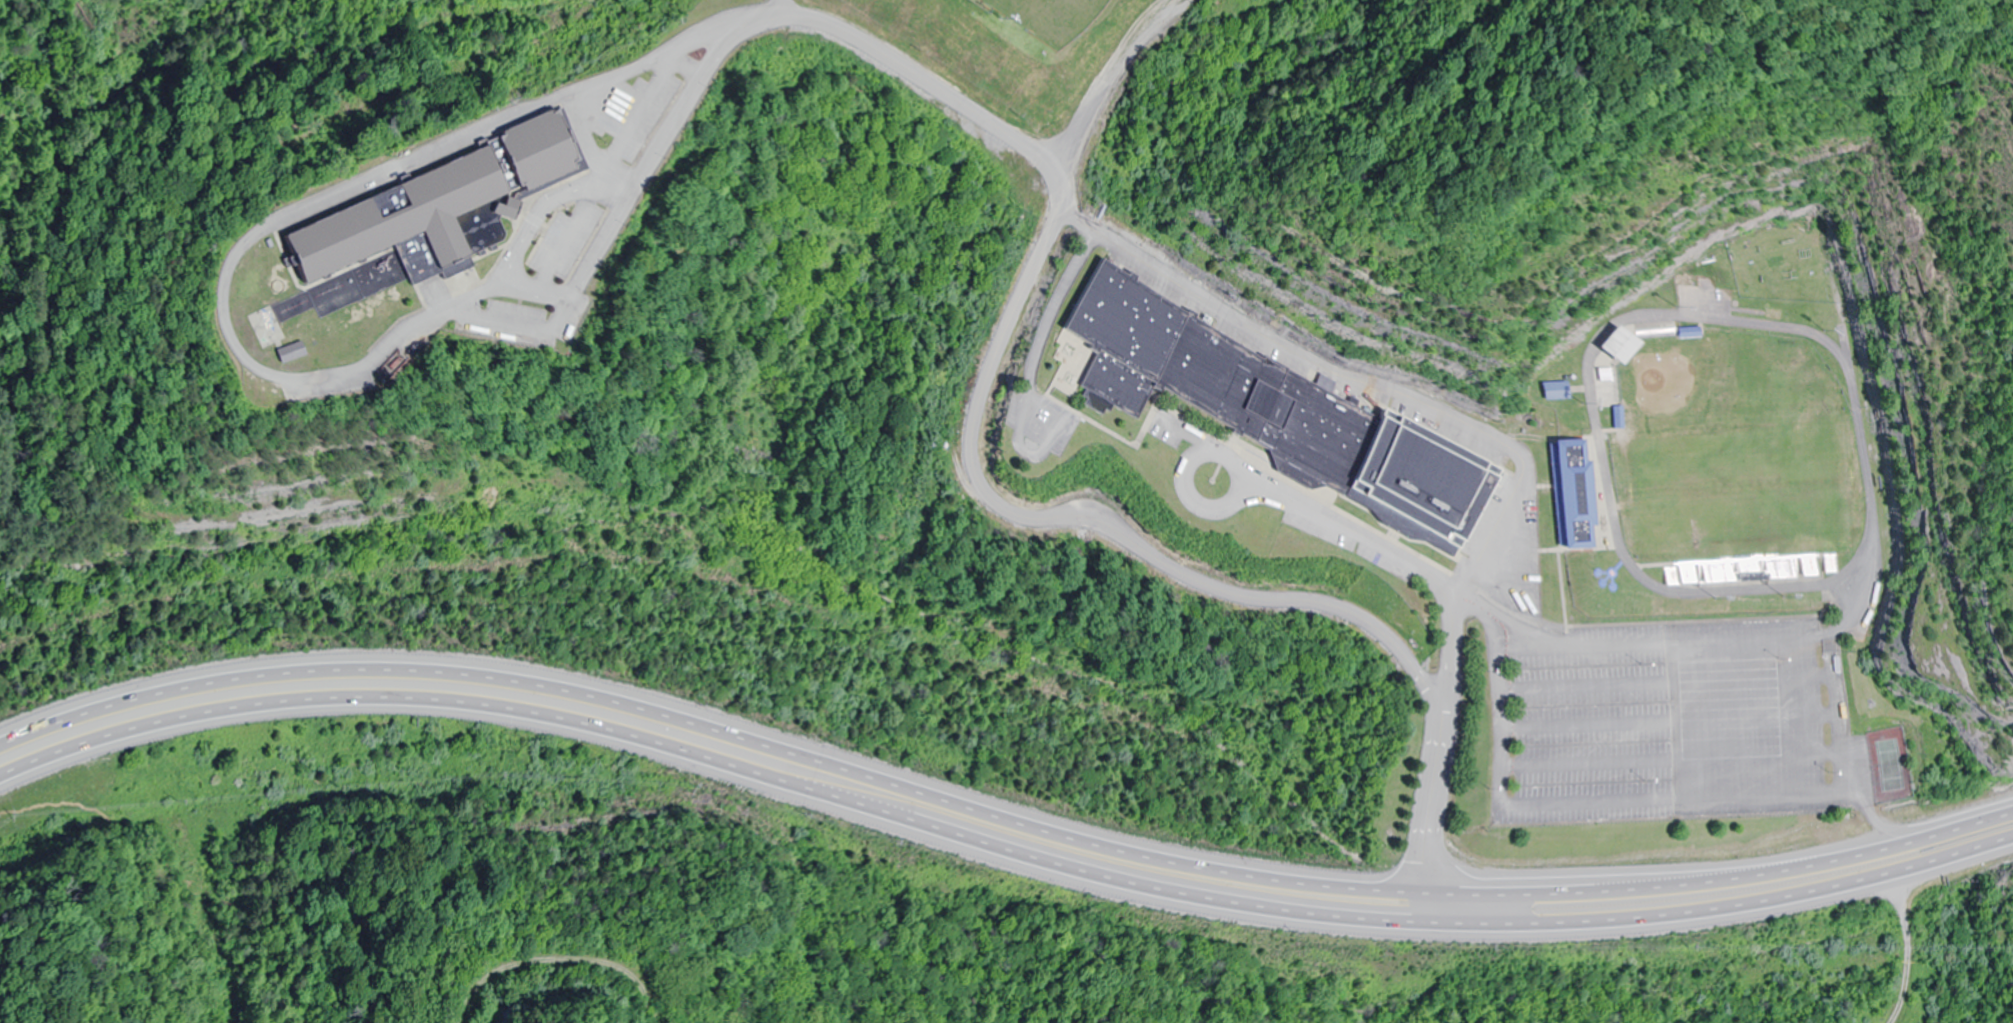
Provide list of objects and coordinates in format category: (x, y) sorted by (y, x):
building: (430, 210)
building: (1614, 346)
building: (287, 353)
building: (1553, 392)
building: (1267, 407)
building: (1567, 496)
road: (997, 834)
road: (998, 861)
road: (1406, 918)

